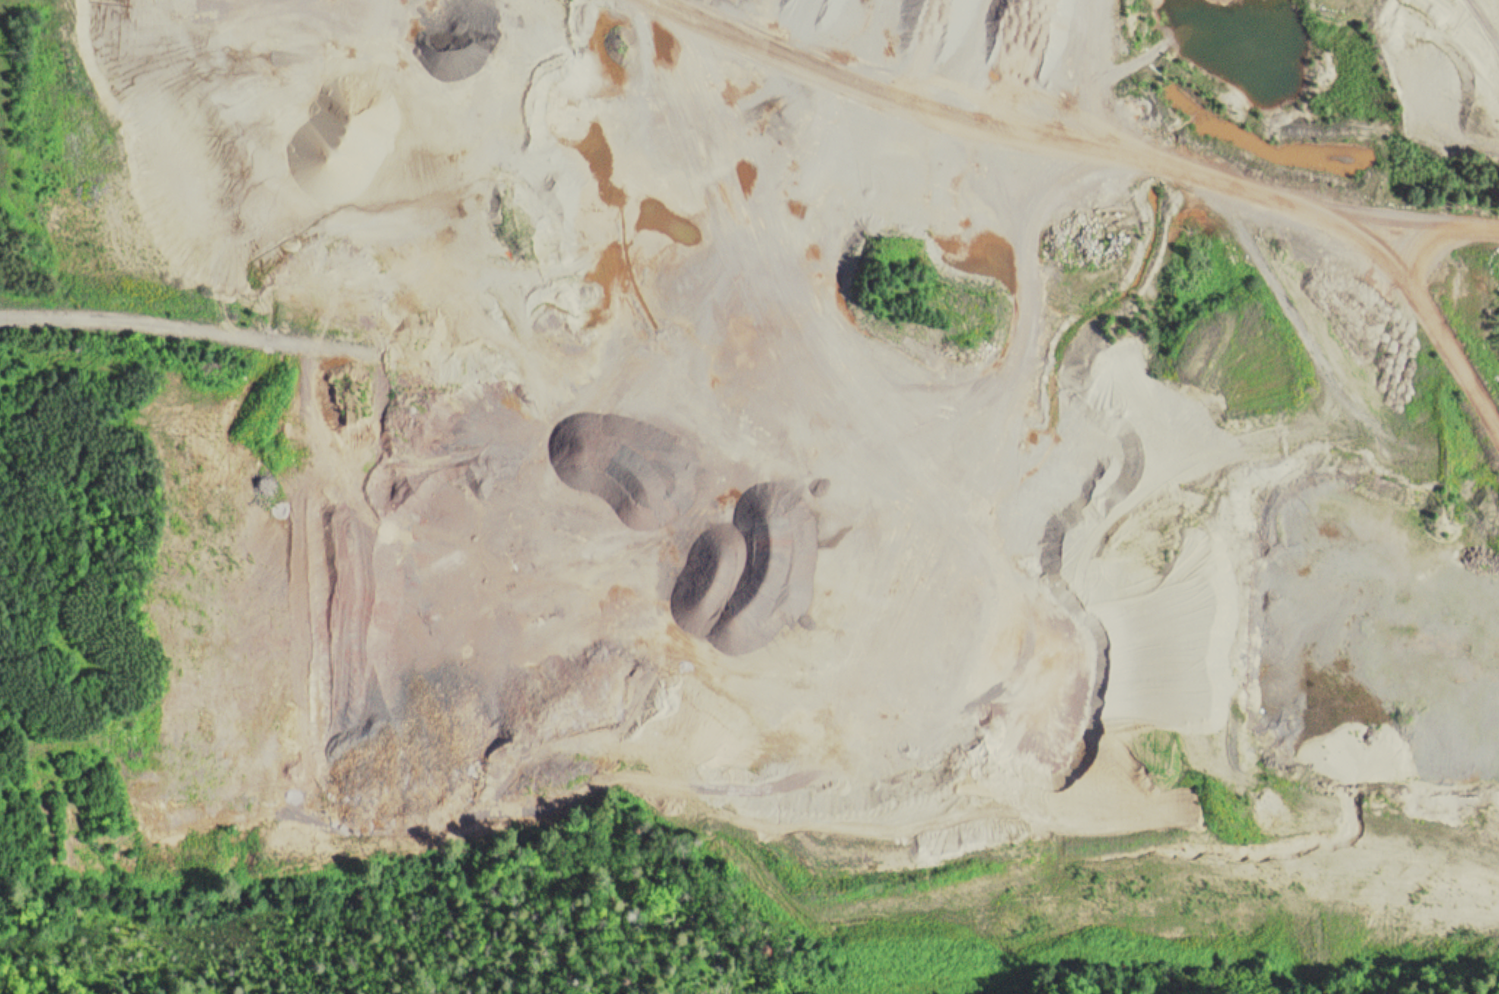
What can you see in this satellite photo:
road: (1223, 196)
road: (790, 399)

